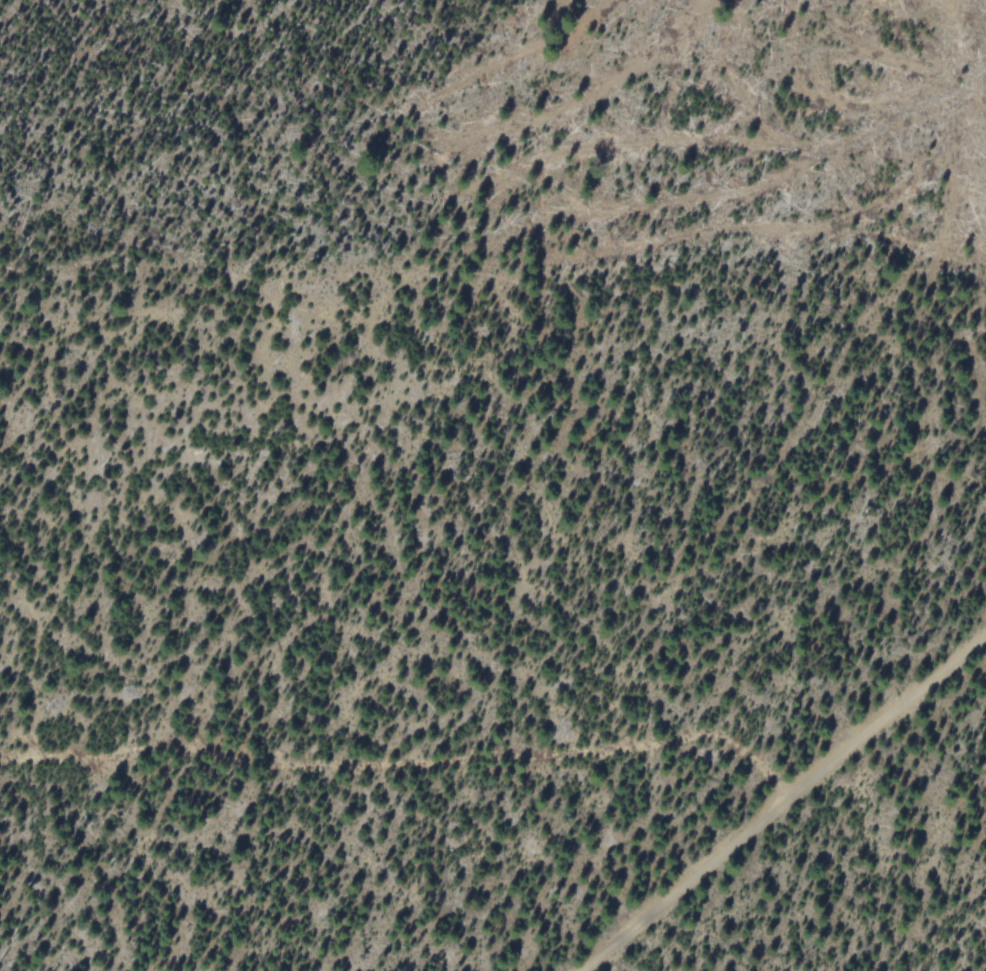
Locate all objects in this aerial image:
road: (787, 804)

